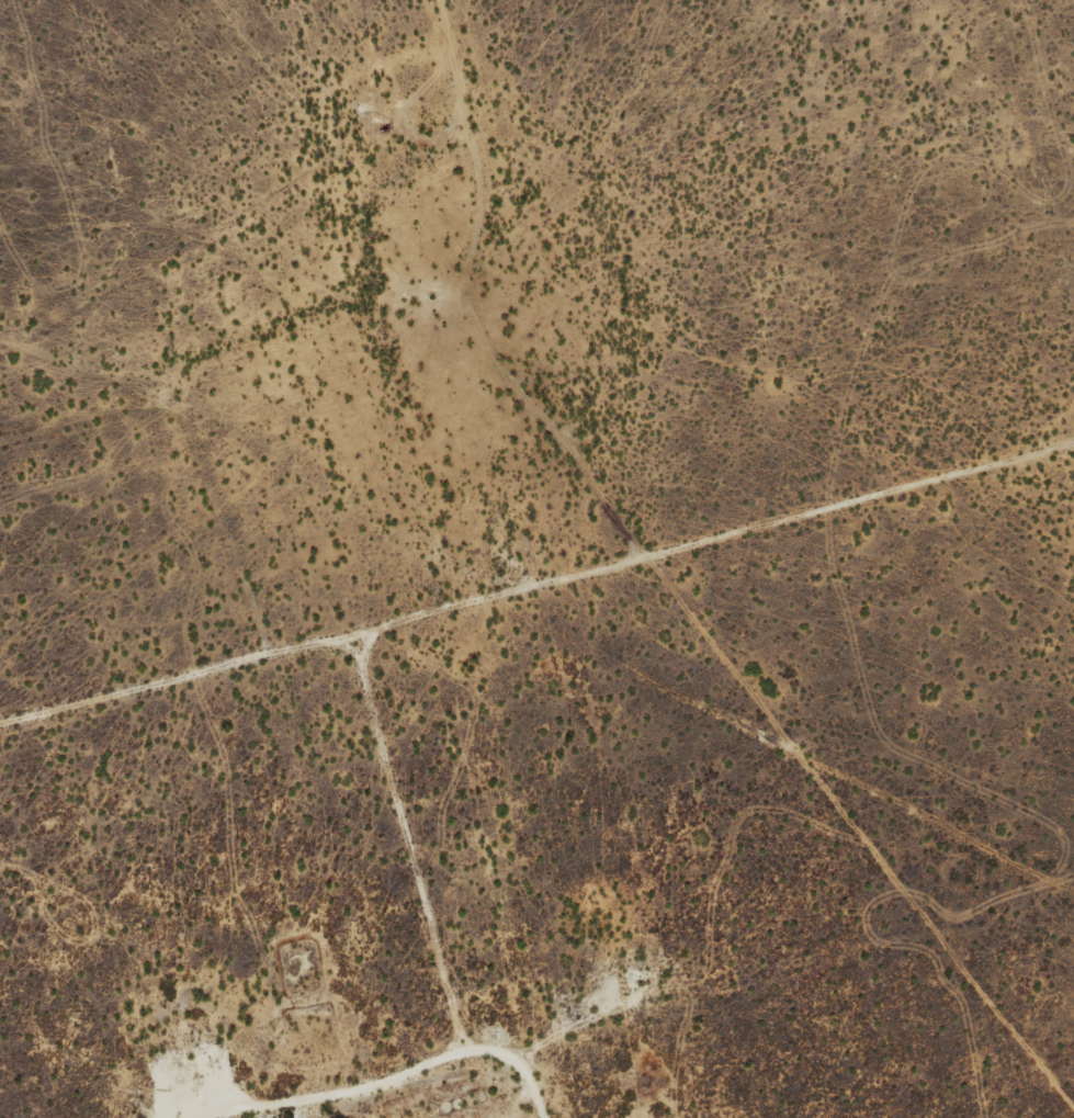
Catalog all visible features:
road: (521, 630)
road: (251, 1014)

